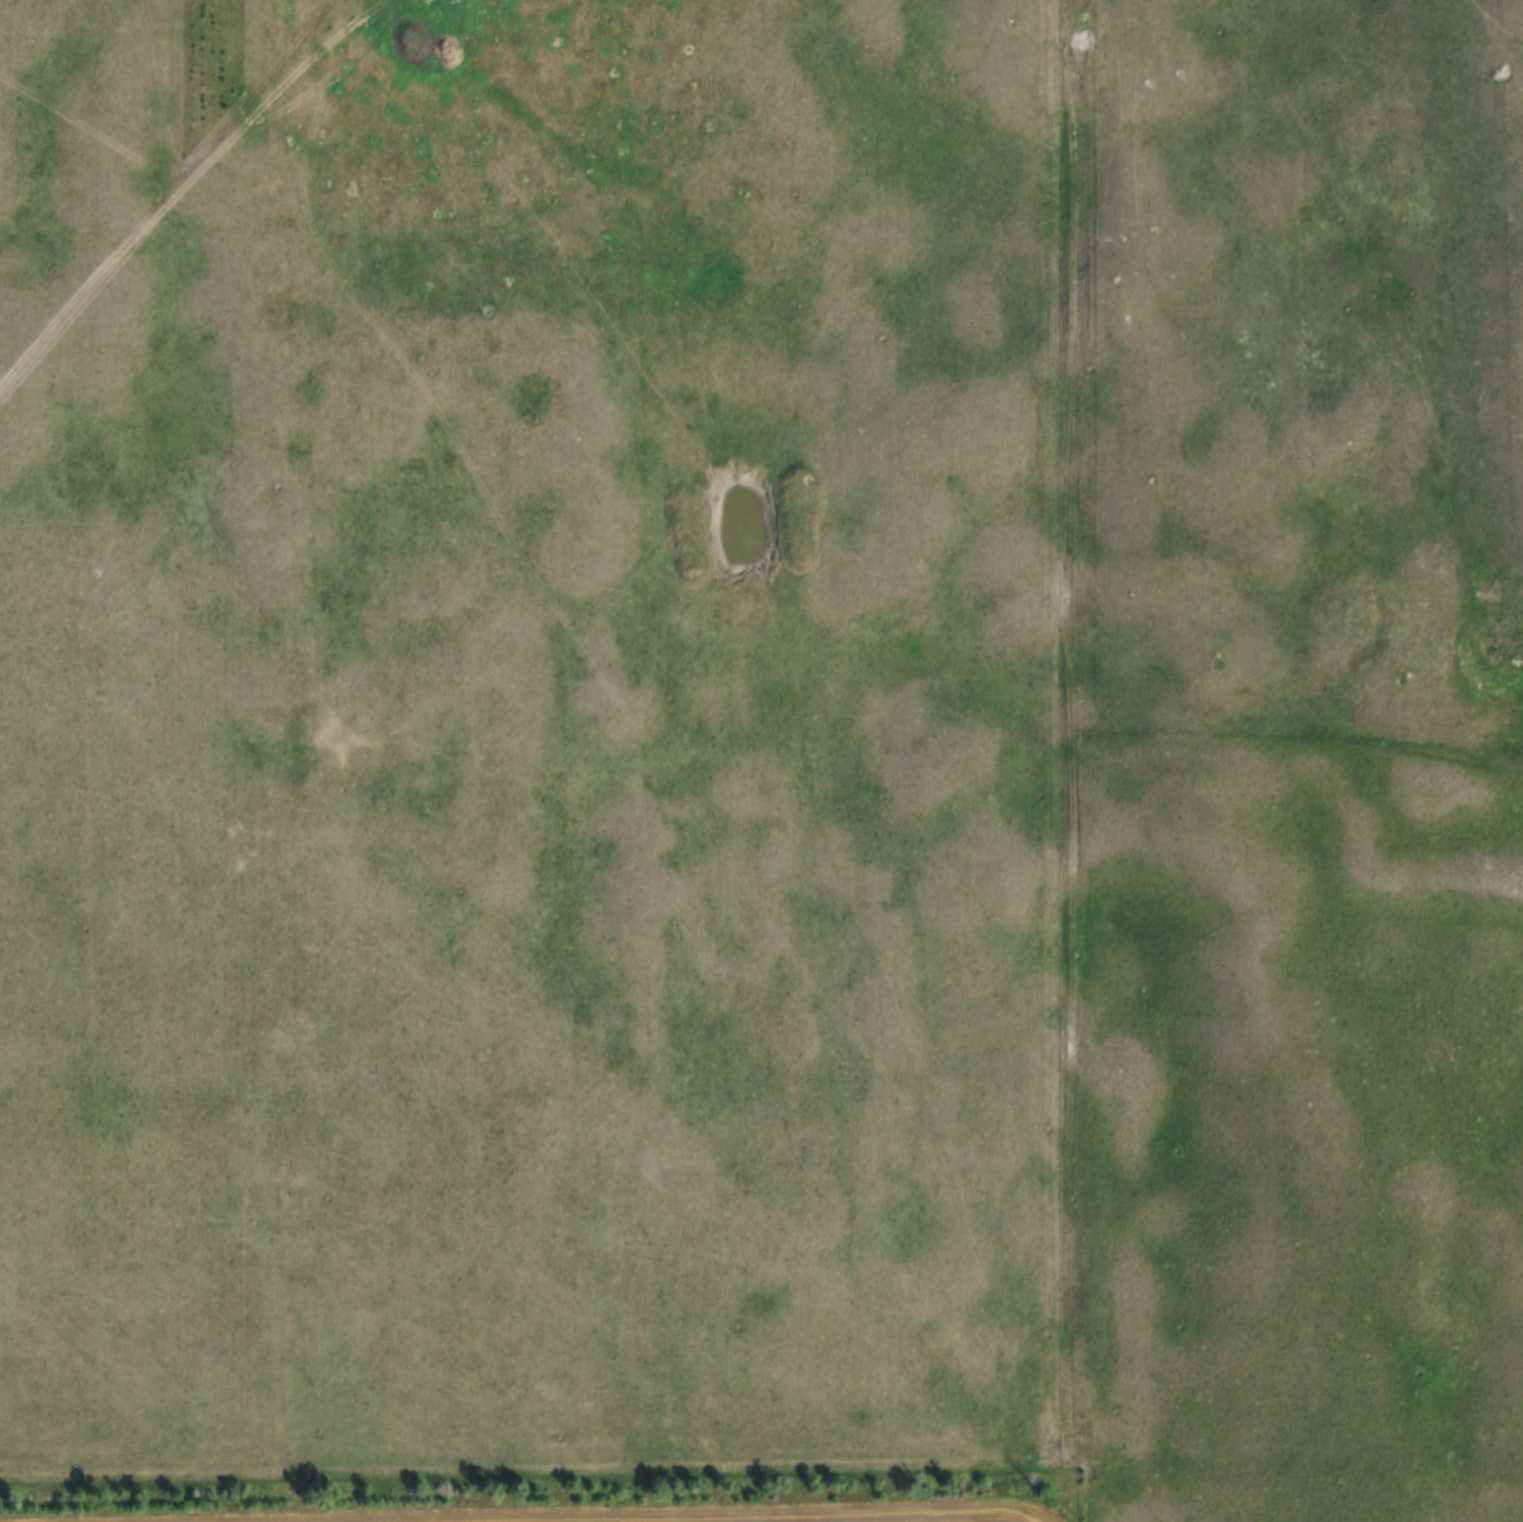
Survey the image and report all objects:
road: (1073, 760)

